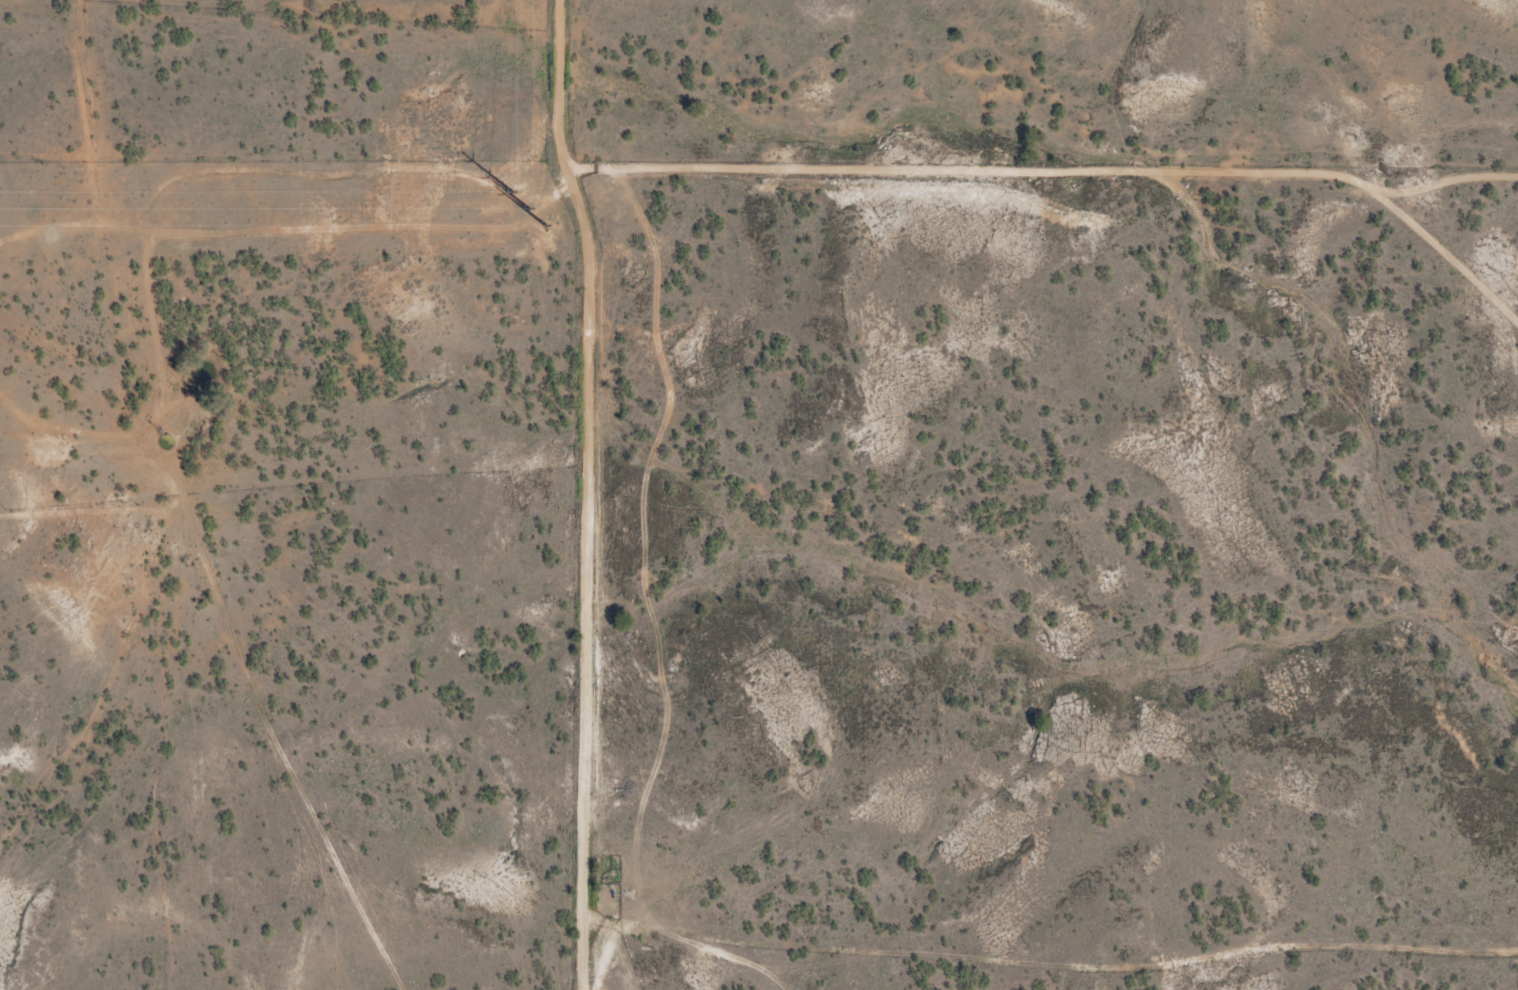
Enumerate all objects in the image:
power tower: (529, 206)
road: (592, 493)

